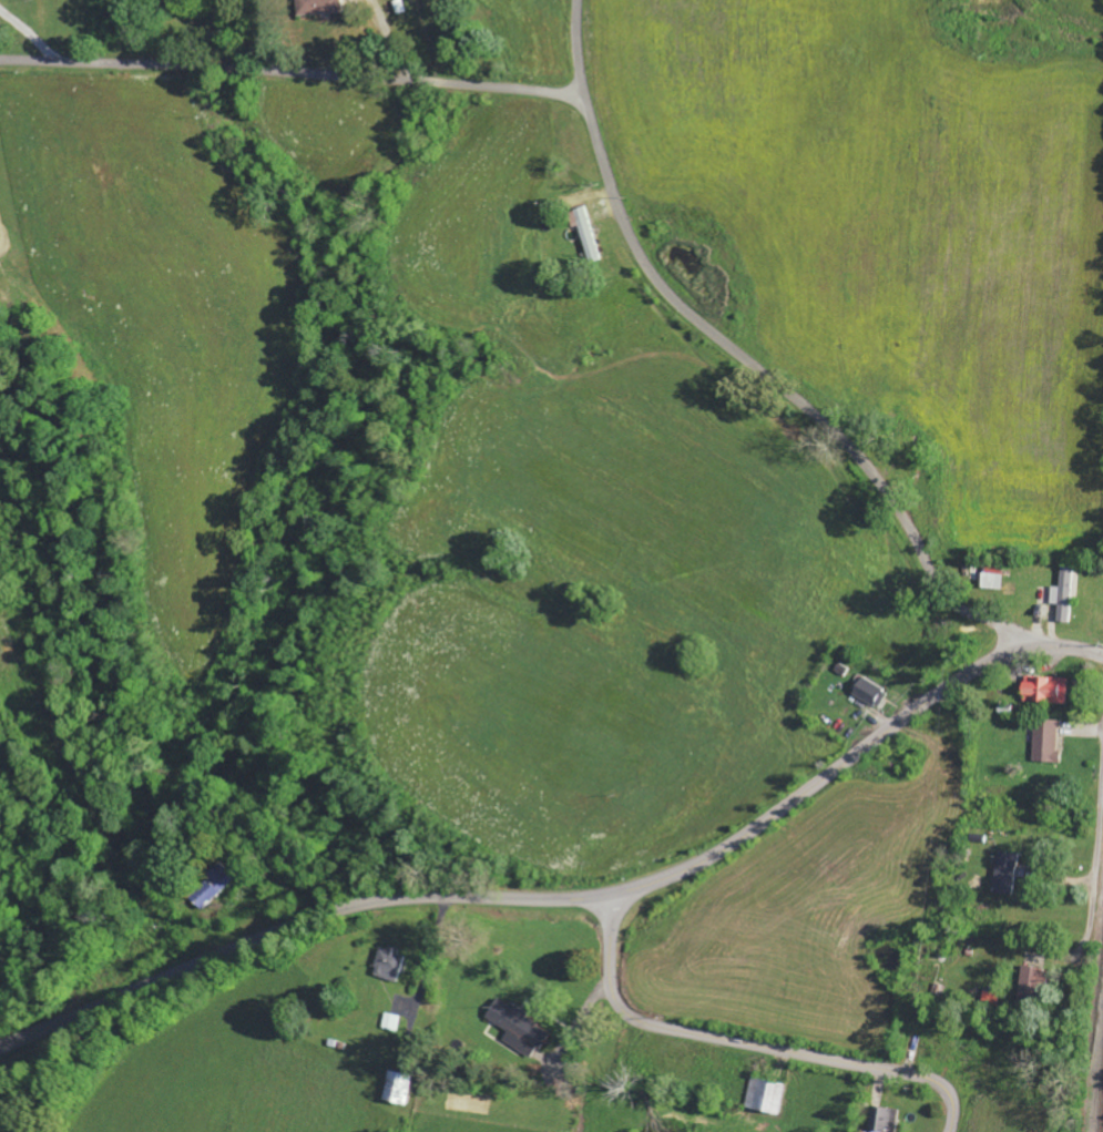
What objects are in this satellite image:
building: (319, 7)
road: (294, 74)
building: (589, 234)
road: (748, 363)
building: (1064, 594)
building: (1043, 690)
building: (869, 692)
building: (0, 734)
building: (1045, 741)
road: (1096, 863)
building: (1005, 873)
road: (645, 881)
road: (300, 926)
building: (391, 963)
building: (1031, 983)
building: (521, 1028)
railway: (1097, 1083)
building: (397, 1089)
building: (765, 1097)
building: (884, 1120)

